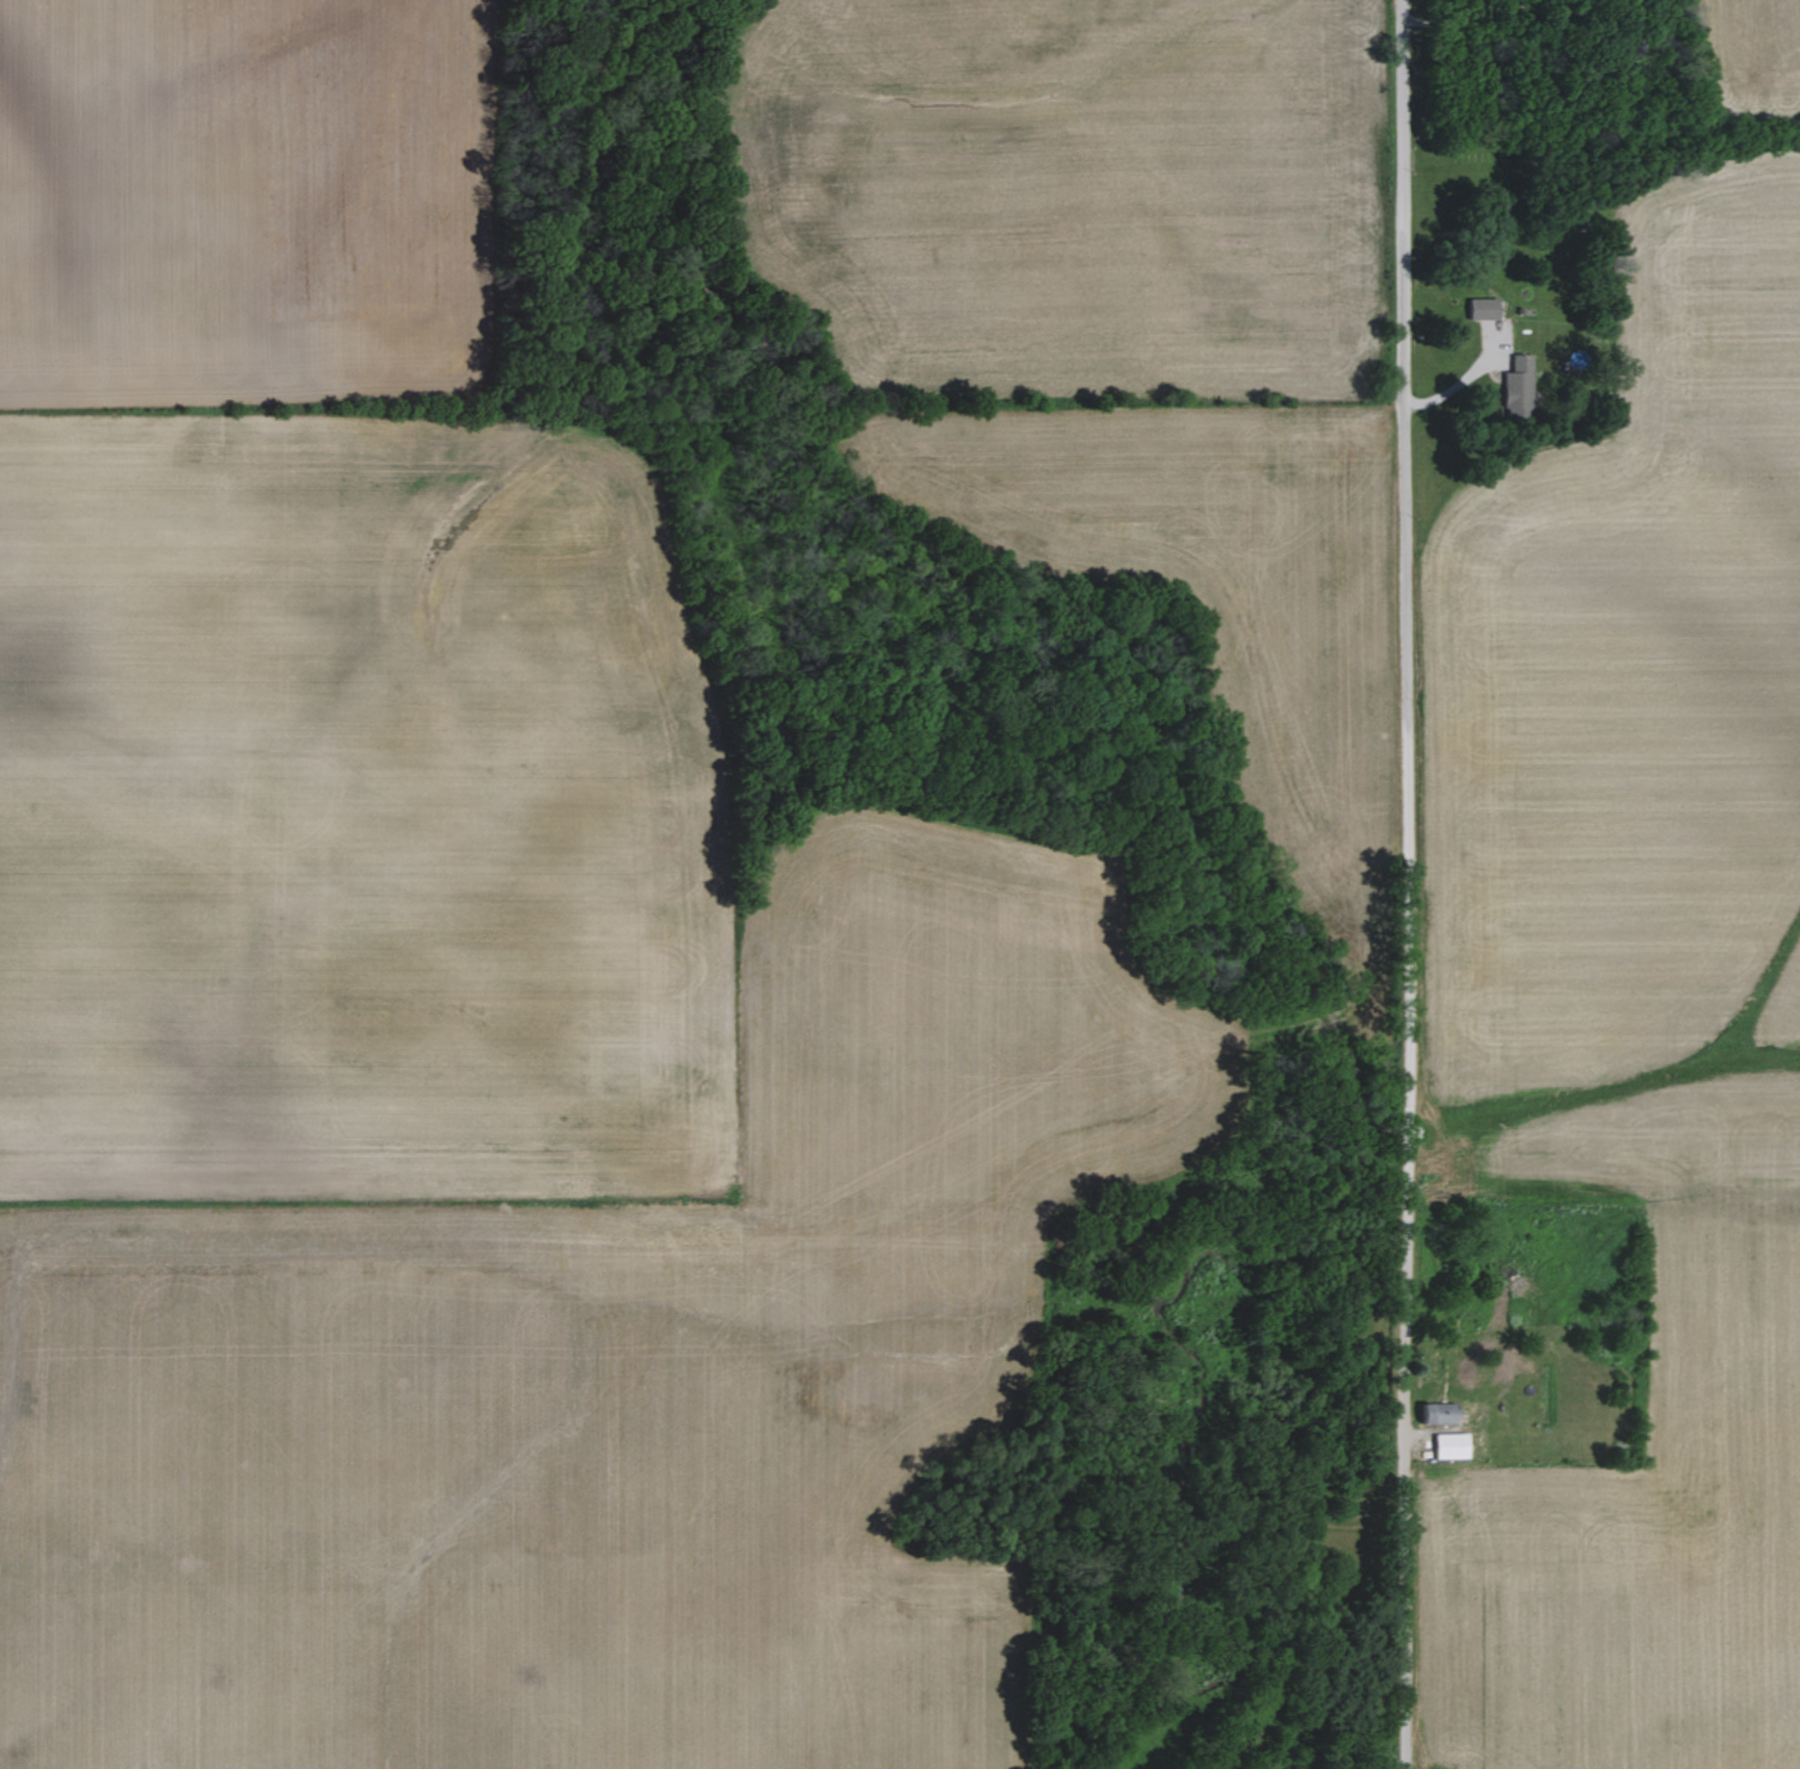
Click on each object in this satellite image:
road: (1483, 13)
building: (1487, 309)
road: (1473, 376)
building: (1521, 384)
road: (1407, 884)
building: (1440, 1414)
building: (1454, 1446)

